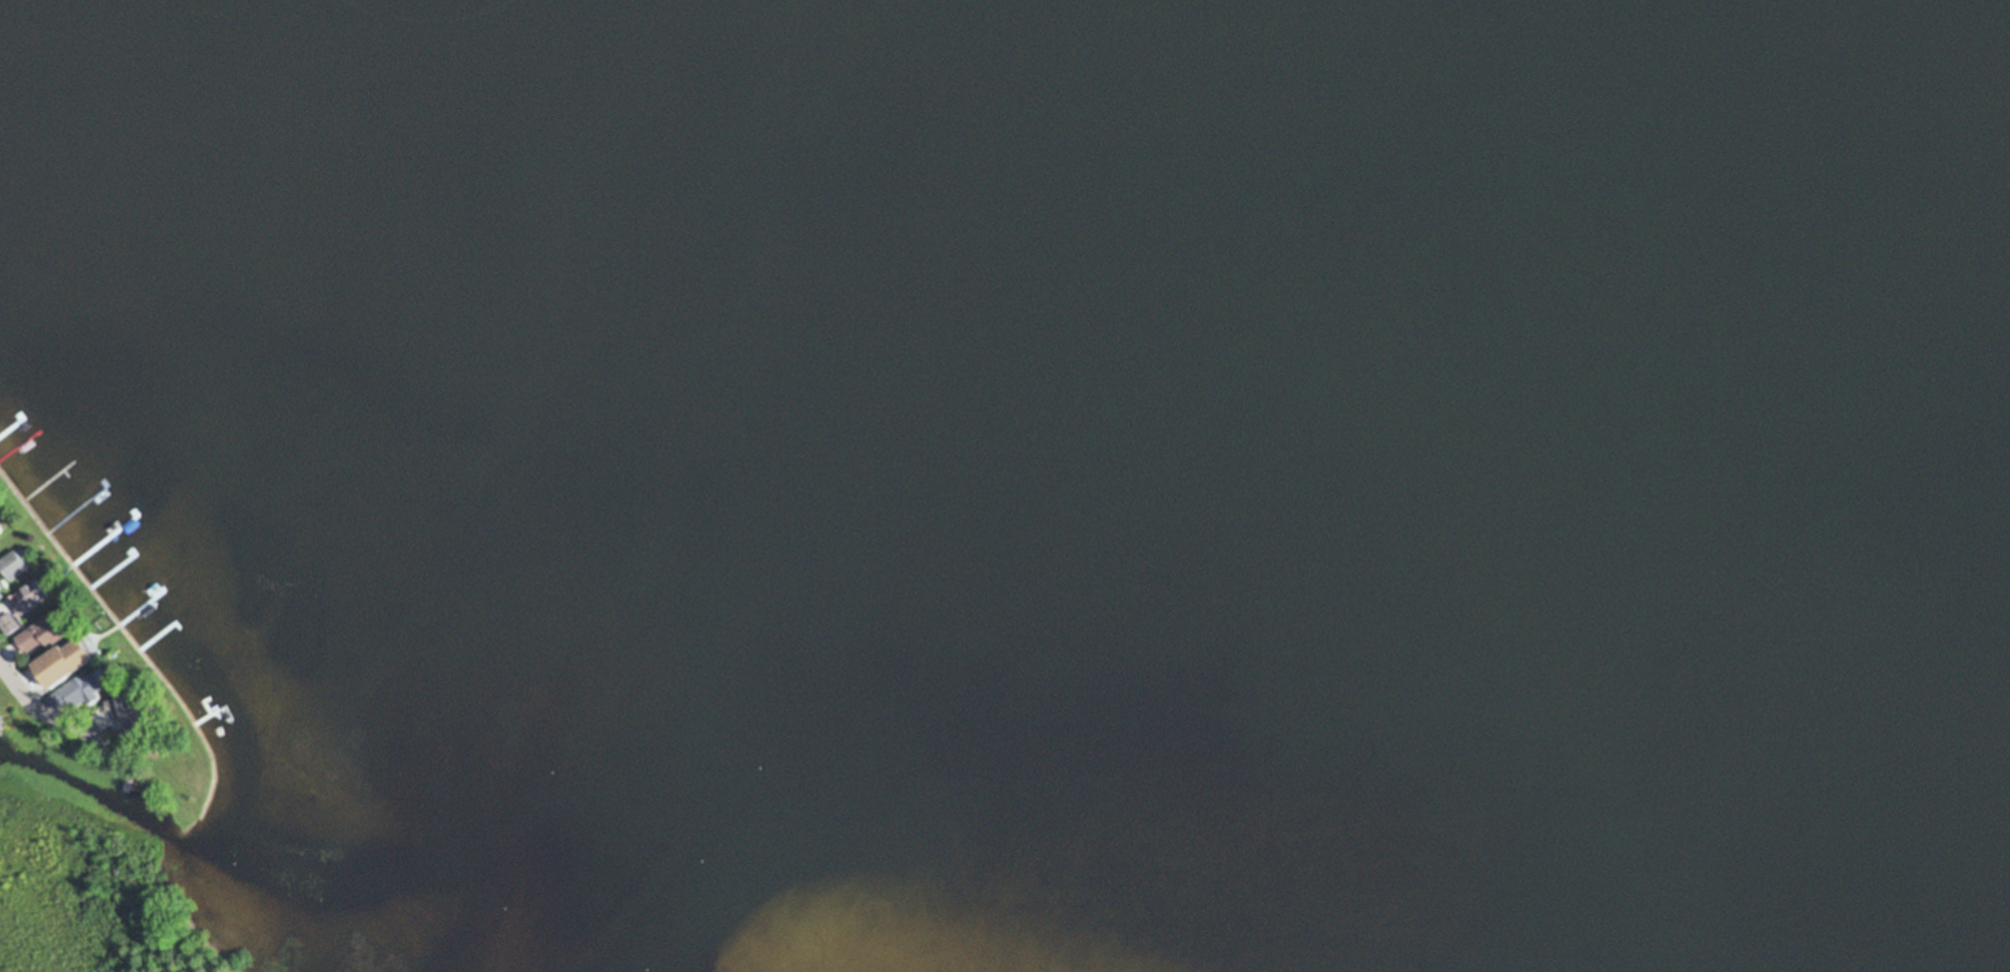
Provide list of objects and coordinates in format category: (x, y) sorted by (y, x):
building: (14, 565)
building: (1, 591)
building: (30, 597)
building: (9, 624)
building: (46, 632)
building: (74, 674)
road: (15, 682)
building: (136, 711)
river: (1101, 898)

